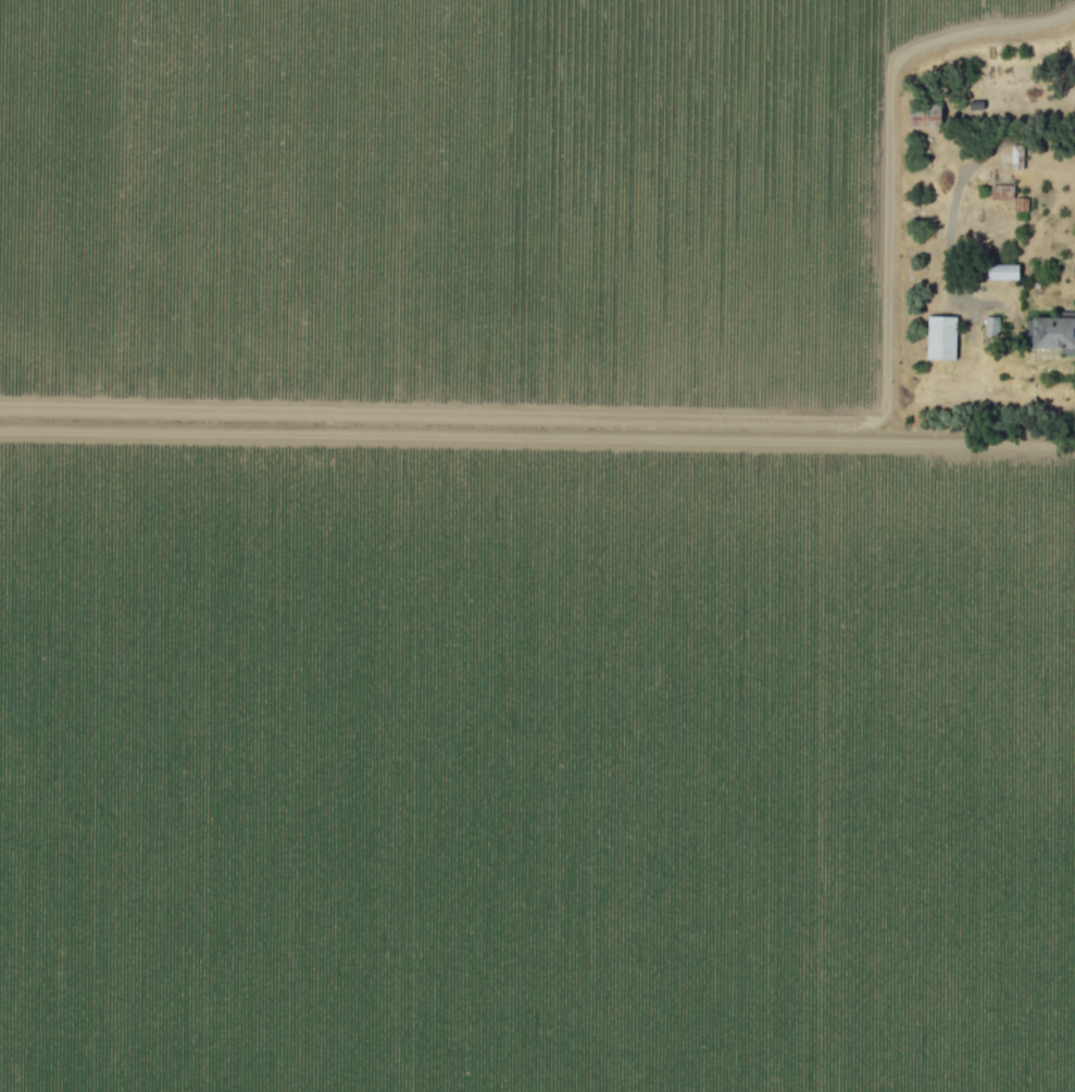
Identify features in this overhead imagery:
building: (924, 114)
road: (959, 184)
building: (1000, 191)
building: (1002, 272)
building: (990, 326)
building: (1052, 332)
building: (940, 337)

